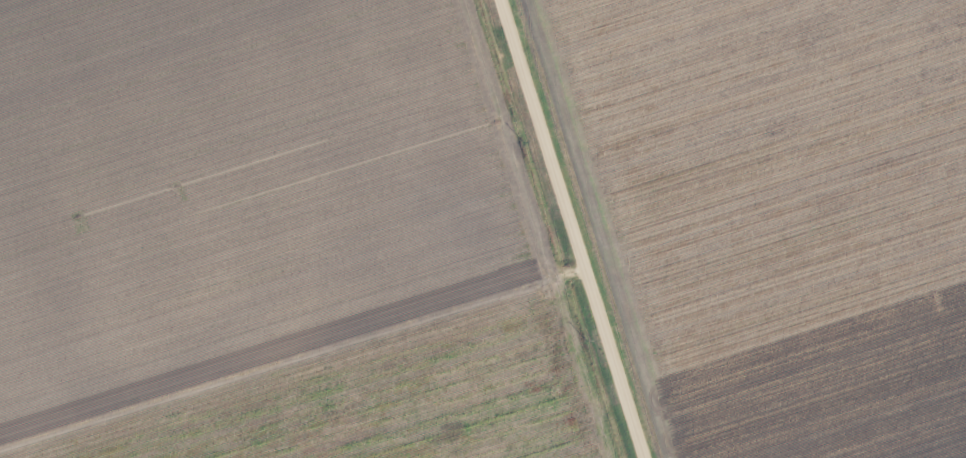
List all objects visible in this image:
road: (575, 229)

